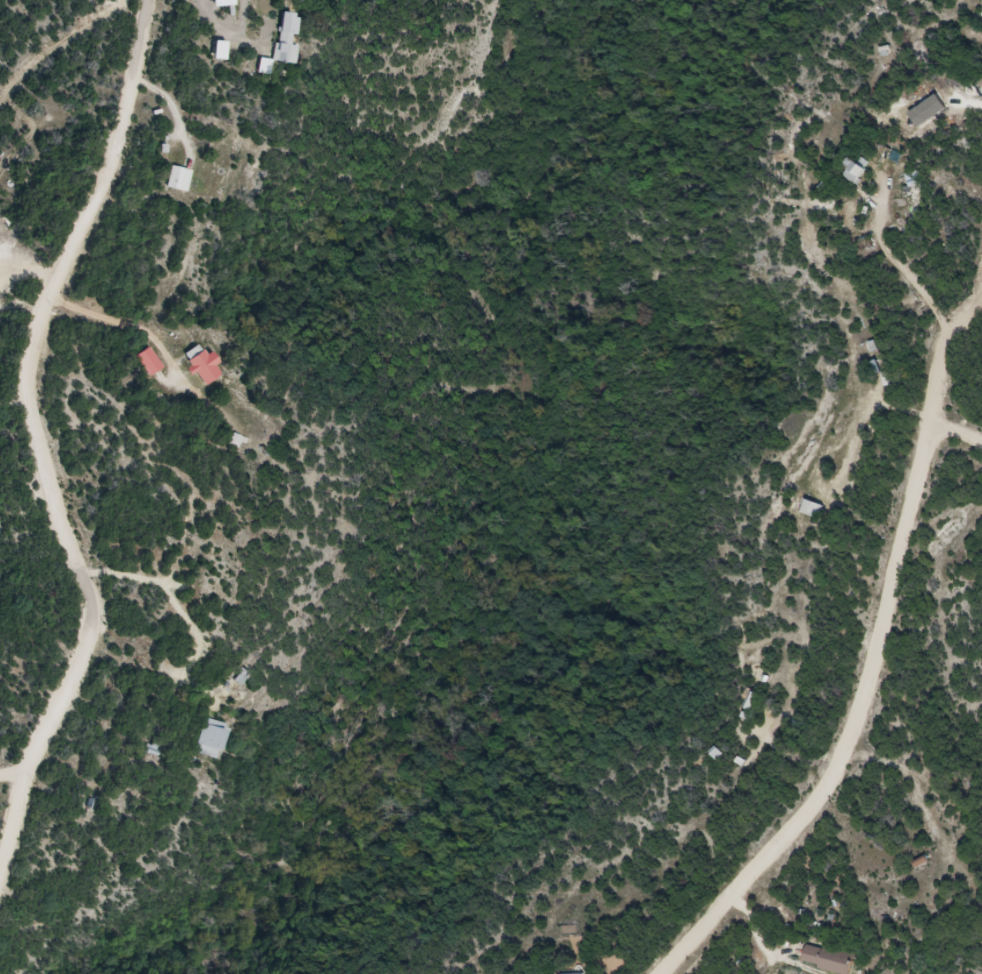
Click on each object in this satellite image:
road: (230, 29)
building: (293, 38)
building: (862, 172)
building: (182, 179)
road: (121, 316)
building: (152, 362)
building: (210, 366)
road: (32, 388)
road: (960, 430)
road: (182, 611)
road: (870, 635)
building: (218, 741)
road: (15, 770)
road: (15, 806)
building: (571, 932)
building: (834, 960)

